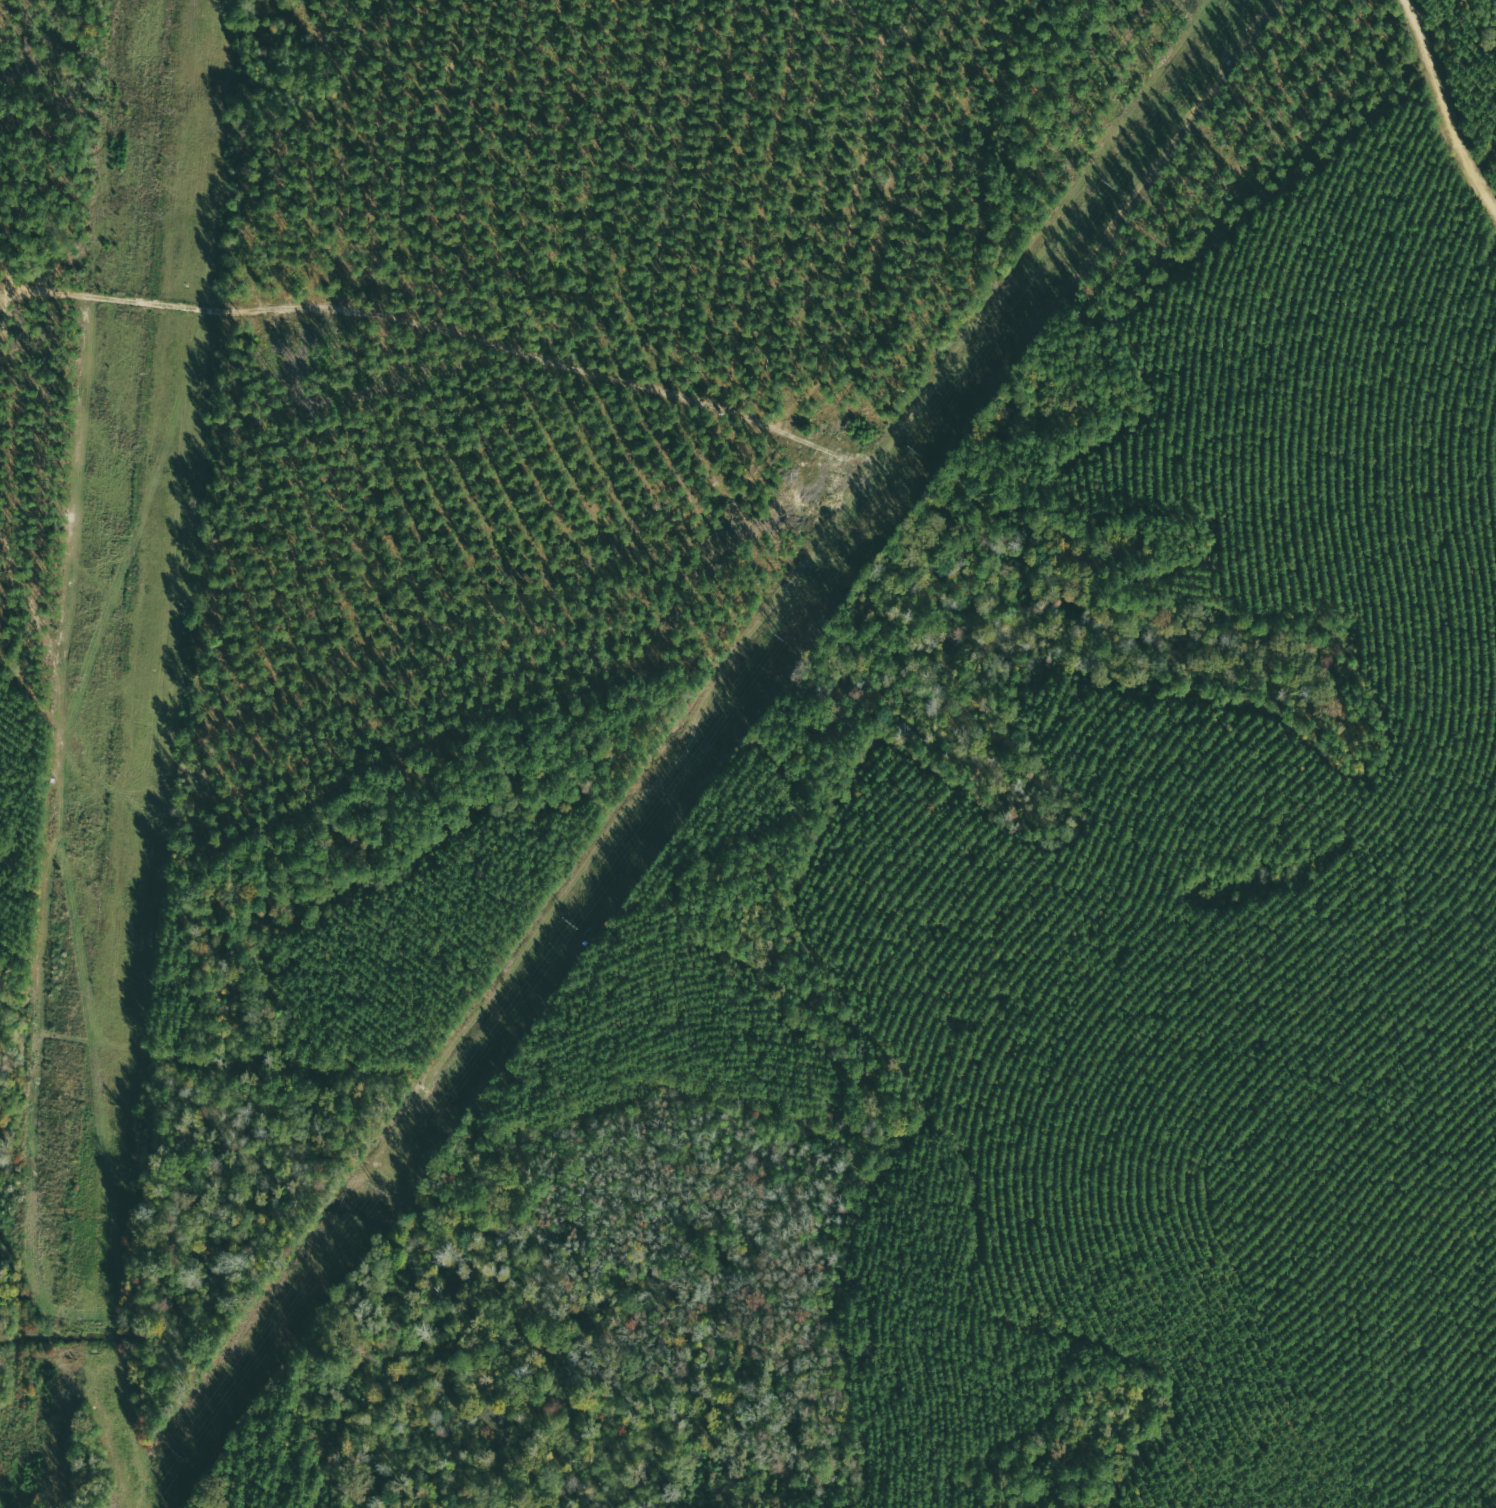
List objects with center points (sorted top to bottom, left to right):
power tower: (1107, 183)
road: (728, 244)
power tower: (912, 448)
power tower: (776, 636)
power tower: (567, 922)
power tower: (374, 1186)
power tower: (177, 1456)

